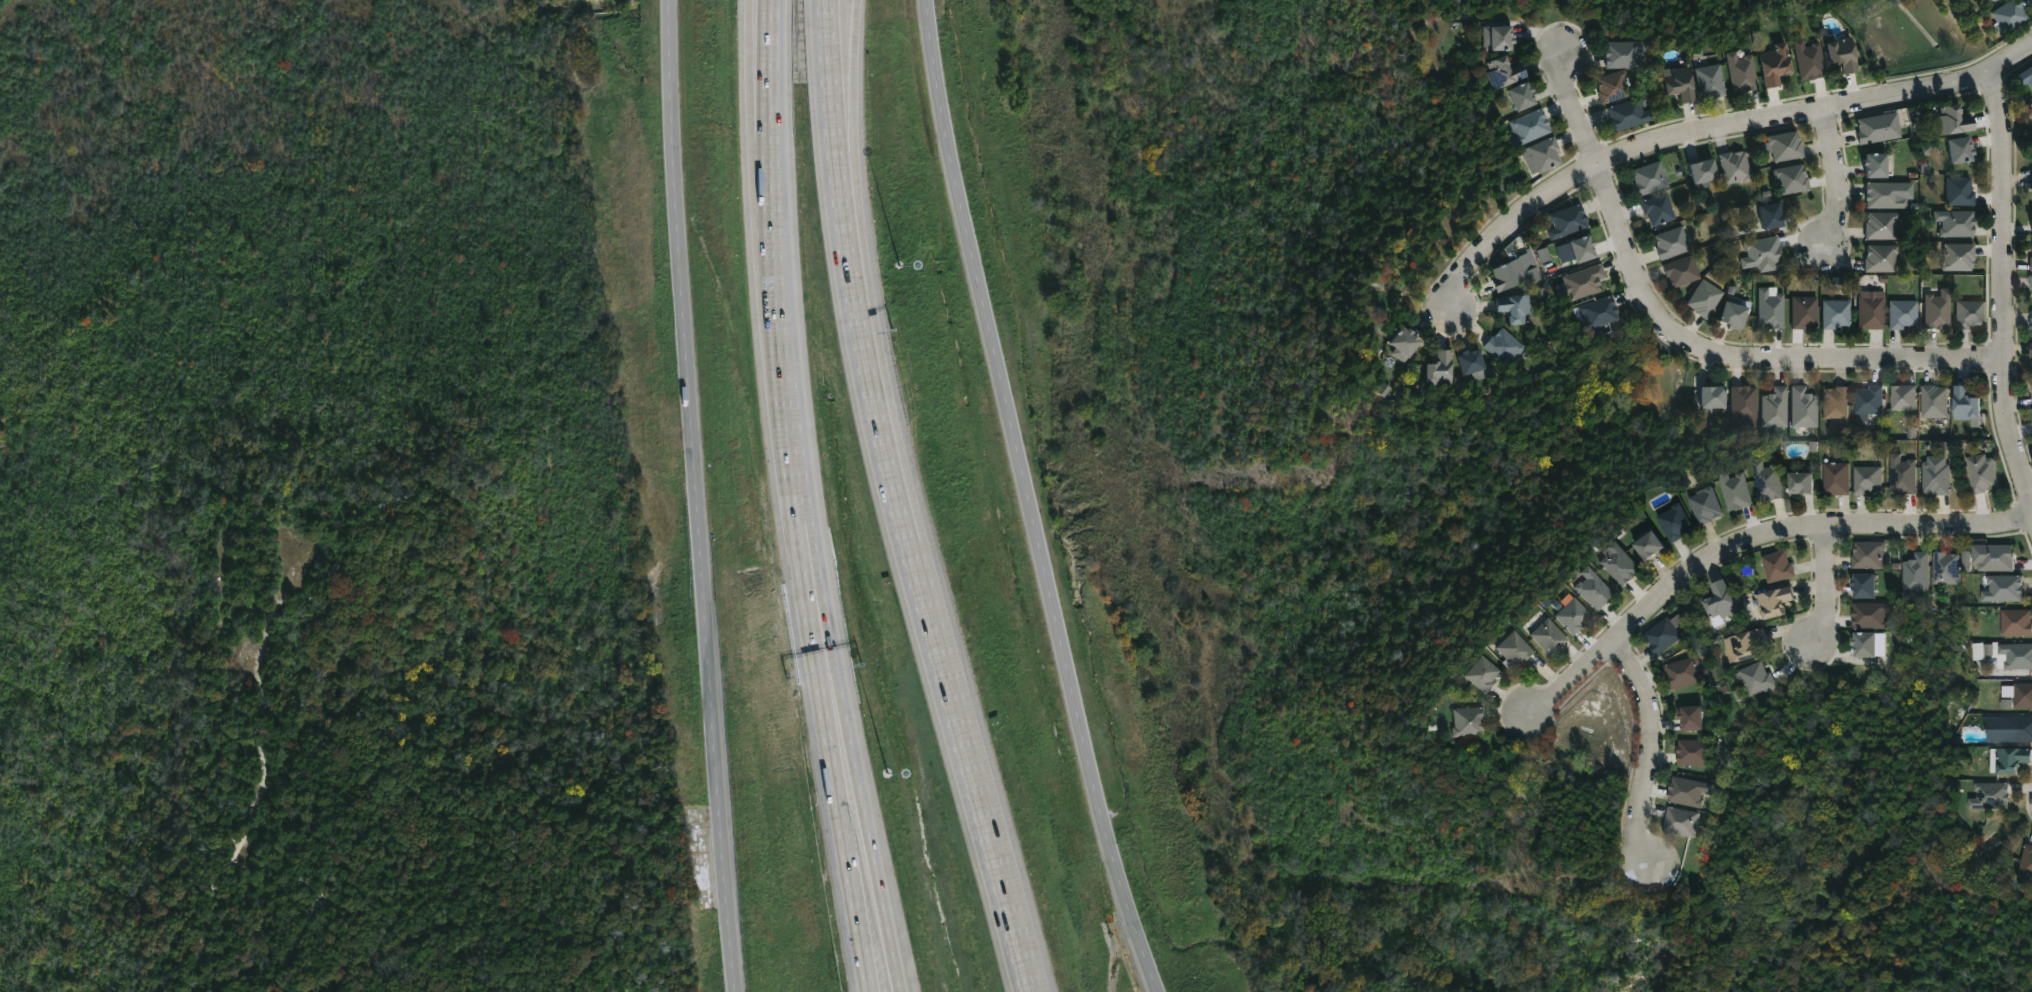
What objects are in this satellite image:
building: (1988, 1)
building: (2006, 14)
road: (748, 21)
road: (856, 32)
building: (1504, 35)
building: (1837, 50)
road: (2024, 51)
building: (1621, 53)
building: (1807, 59)
building: (1771, 63)
road: (772, 67)
building: (1511, 70)
building: (1740, 71)
building: (2026, 77)
road: (829, 78)
building: (1708, 80)
building: (1676, 82)
building: (1610, 86)
road: (760, 89)
building: (1528, 94)
building: (2030, 104)
road: (846, 110)
building: (1625, 113)
building: (1952, 119)
building: (2031, 121)
building: (1531, 124)
building: (1872, 128)
road: (1703, 132)
building: (1781, 145)
building: (1956, 148)
building: (1539, 154)
building: (1871, 164)
building: (1732, 165)
building: (1698, 169)
building: (1647, 177)
road: (1839, 177)
building: (1790, 178)
building: (2031, 181)
road: (773, 187)
building: (1956, 190)
building: (1884, 194)
building: (1656, 208)
building: (1767, 214)
building: (1564, 221)
building: (1953, 221)
building: (2030, 222)
building: (1879, 224)
building: (1669, 241)
building: (1578, 245)
building: (1758, 251)
building: (1957, 255)
building: (1878, 257)
building: (2030, 263)
street lamp: (900, 265)
building: (1679, 270)
building: (1515, 273)
building: (1584, 279)
building: (2030, 281)
building: (2030, 290)
road: (2005, 292)
building: (1703, 298)
building: (1518, 307)
building: (1768, 307)
road: (778, 308)
building: (1935, 309)
building: (1597, 311)
building: (1729, 311)
building: (1802, 311)
building: (1870, 311)
building: (1833, 312)
building: (1901, 312)
building: (1967, 312)
building: (2030, 322)
road: (1692, 342)
building: (1410, 343)
building: (1505, 344)
road: (862, 346)
building: (2030, 352)
building: (1475, 361)
building: (1444, 369)
building: (2030, 391)
building: (1707, 396)
building: (1902, 397)
building: (1867, 400)
building: (1833, 402)
building: (1933, 402)
building: (1742, 404)
building: (1963, 404)
building: (1773, 407)
building: (1801, 407)
building: (1980, 473)
building: (1901, 474)
building: (1835, 478)
building: (1935, 478)
building: (1867, 479)
building: (1766, 480)
building: (1798, 482)
road: (801, 486)
building: (1735, 490)
road: (702, 496)
road: (1035, 498)
building: (1704, 505)
building: (1672, 522)
road: (1751, 541)
building: (1646, 546)
building: (1867, 555)
building: (1993, 556)
building: (1615, 563)
building: (1776, 566)
building: (1945, 568)
building: (1916, 573)
road: (1823, 584)
building: (1861, 586)
building: (2002, 588)
building: (1590, 589)
building: (1717, 601)
building: (1772, 602)
building: (1869, 614)
building: (1568, 615)
building: (2016, 621)
building: (1662, 634)
road: (829, 637)
building: (1545, 637)
road: (820, 639)
building: (1745, 644)
building: (1860, 645)
building: (1511, 650)
building: (2014, 655)
building: (1683, 671)
building: (1477, 674)
building: (1754, 677)
building: (2019, 694)
building: (1688, 716)
building: (1464, 721)
building: (2016, 728)
road: (1655, 748)
building: (1693, 751)
building: (2011, 757)
road: (967, 763)
street lamp: (888, 773)
building: (1684, 789)
building: (1988, 795)
building: (1675, 819)
road: (871, 836)
road: (846, 838)
building: (2025, 860)

